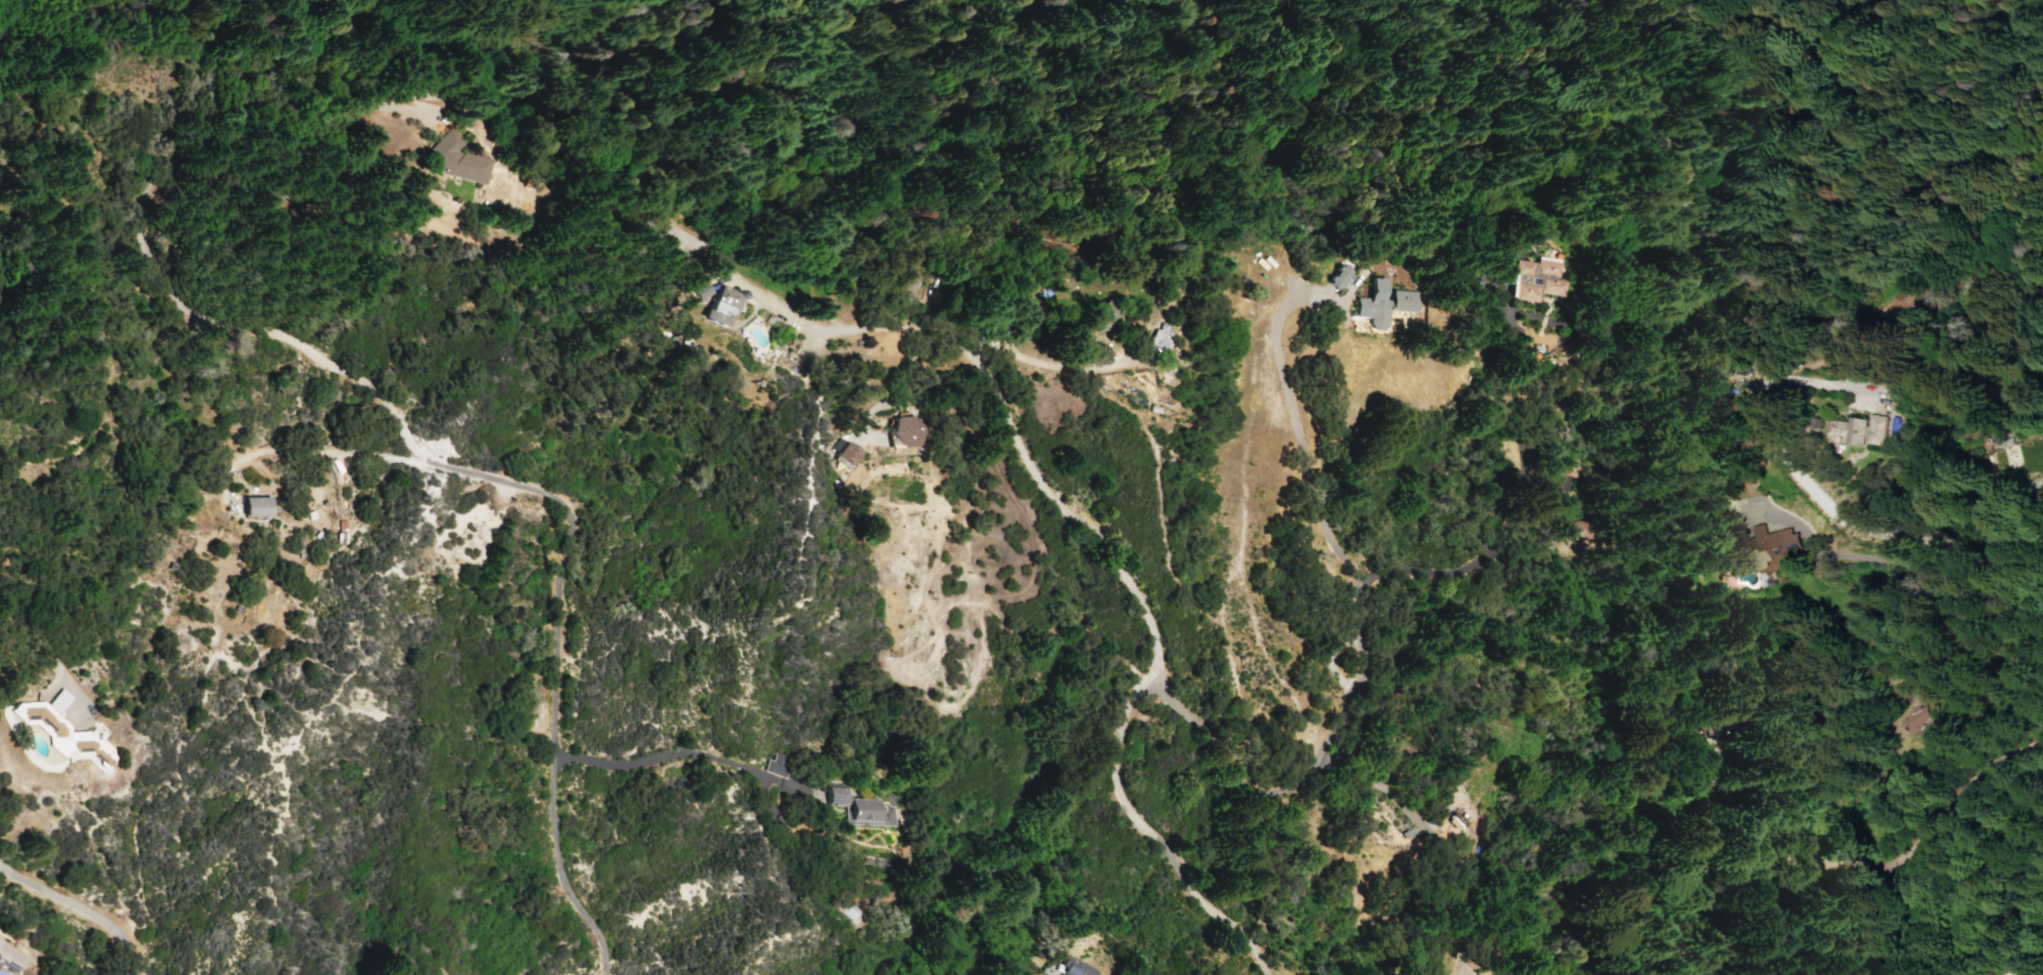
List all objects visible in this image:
building: (456, 159)
road: (141, 230)
building: (1338, 278)
building: (1535, 280)
building: (907, 285)
building: (697, 290)
building: (1382, 304)
building: (718, 306)
building: (1103, 315)
building: (1159, 338)
road: (1046, 364)
crop: (25, 401)
road: (1003, 404)
building: (1858, 429)
building: (902, 431)
road: (317, 450)
building: (845, 453)
building: (1578, 466)
road: (1798, 477)
road: (1534, 497)
building: (255, 506)
building: (1590, 529)
road: (2021, 539)
building: (1773, 544)
road: (1875, 559)
road: (1359, 633)
road: (38, 640)
road: (1330, 657)
road: (554, 675)
road: (75, 713)
building: (1895, 718)
building: (1745, 719)
building: (63, 731)
road: (682, 752)
building: (777, 765)
building: (859, 808)
road: (1672, 812)
road: (1135, 821)
road: (1427, 833)
road: (1901, 836)
crop: (35, 877)
road: (80, 909)
building: (847, 910)
building: (1076, 968)
building: (1992, 969)
building: (2036, 969)

